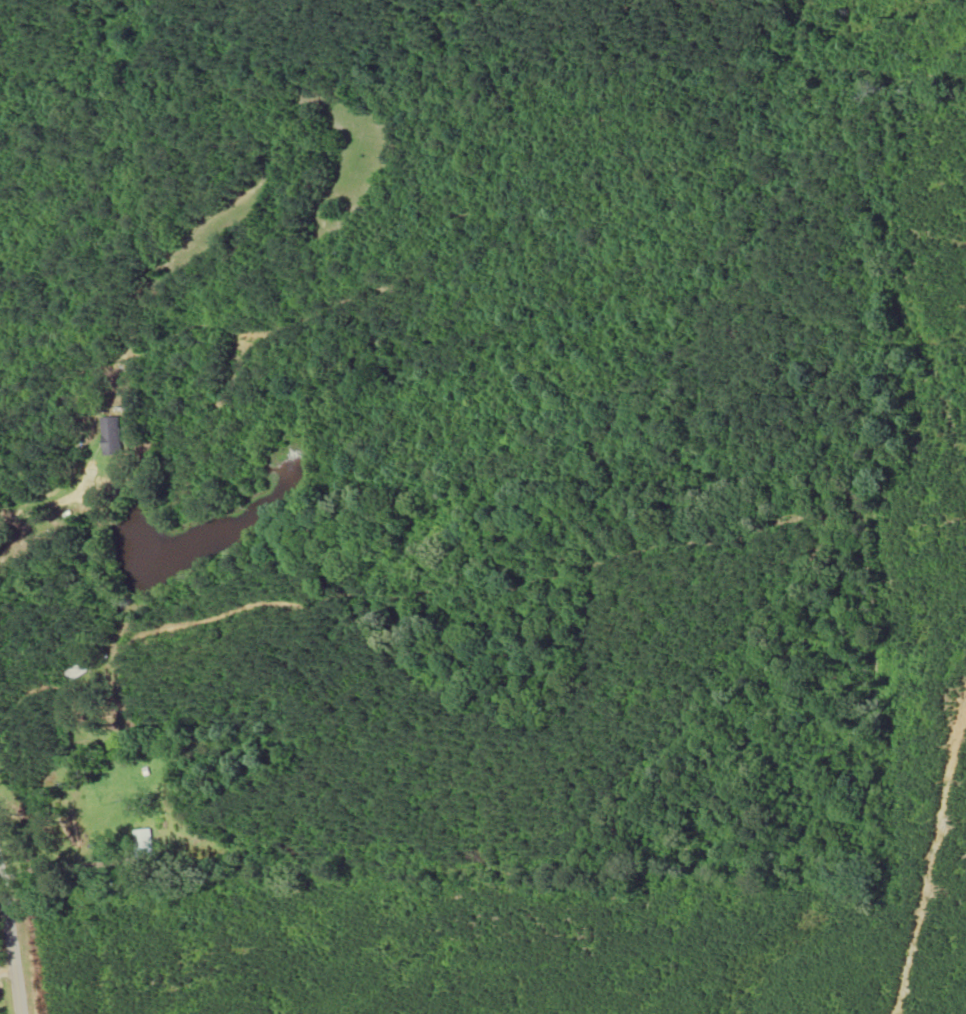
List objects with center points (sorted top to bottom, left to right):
building: (110, 436)
building: (85, 665)
building: (142, 844)
road: (3, 995)

